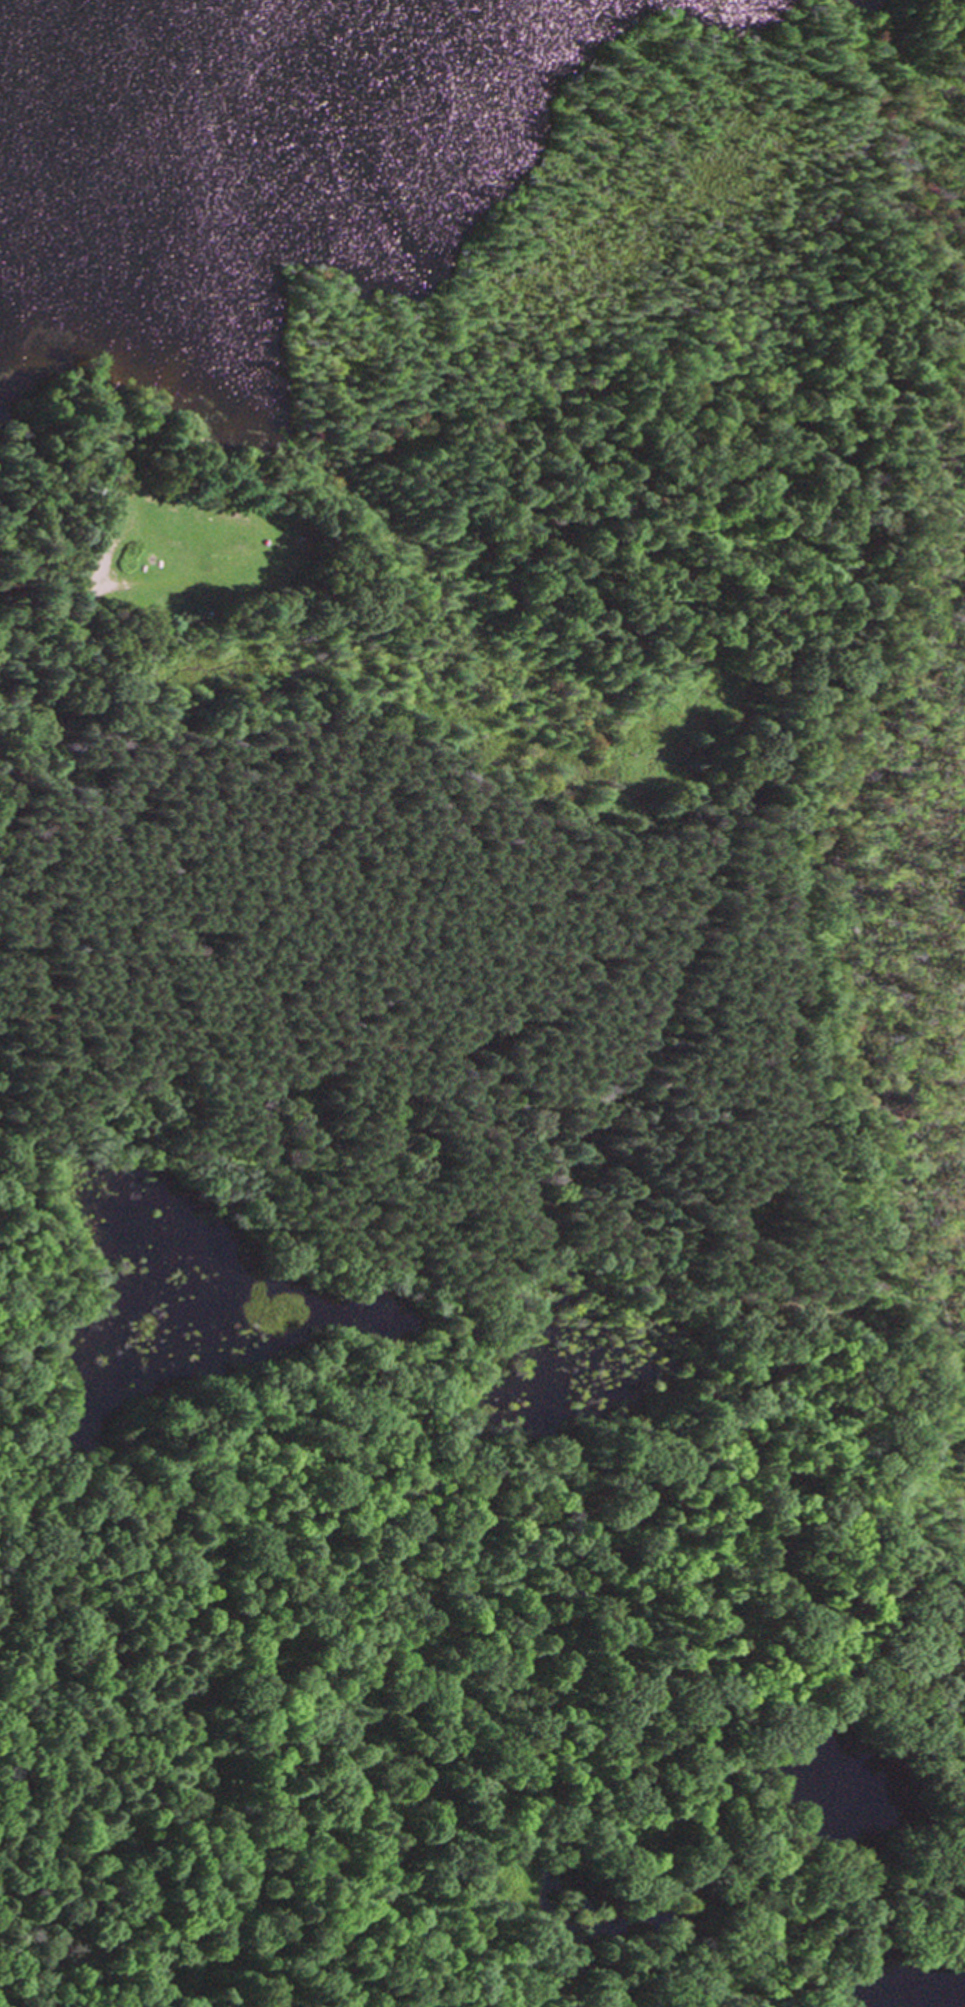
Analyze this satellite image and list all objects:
building: (228, 511)
park: (497, 582)
building: (155, 601)
road: (69, 642)
road: (423, 1179)
road: (831, 1584)
road: (962, 1810)
road: (960, 1848)
road: (863, 1920)

